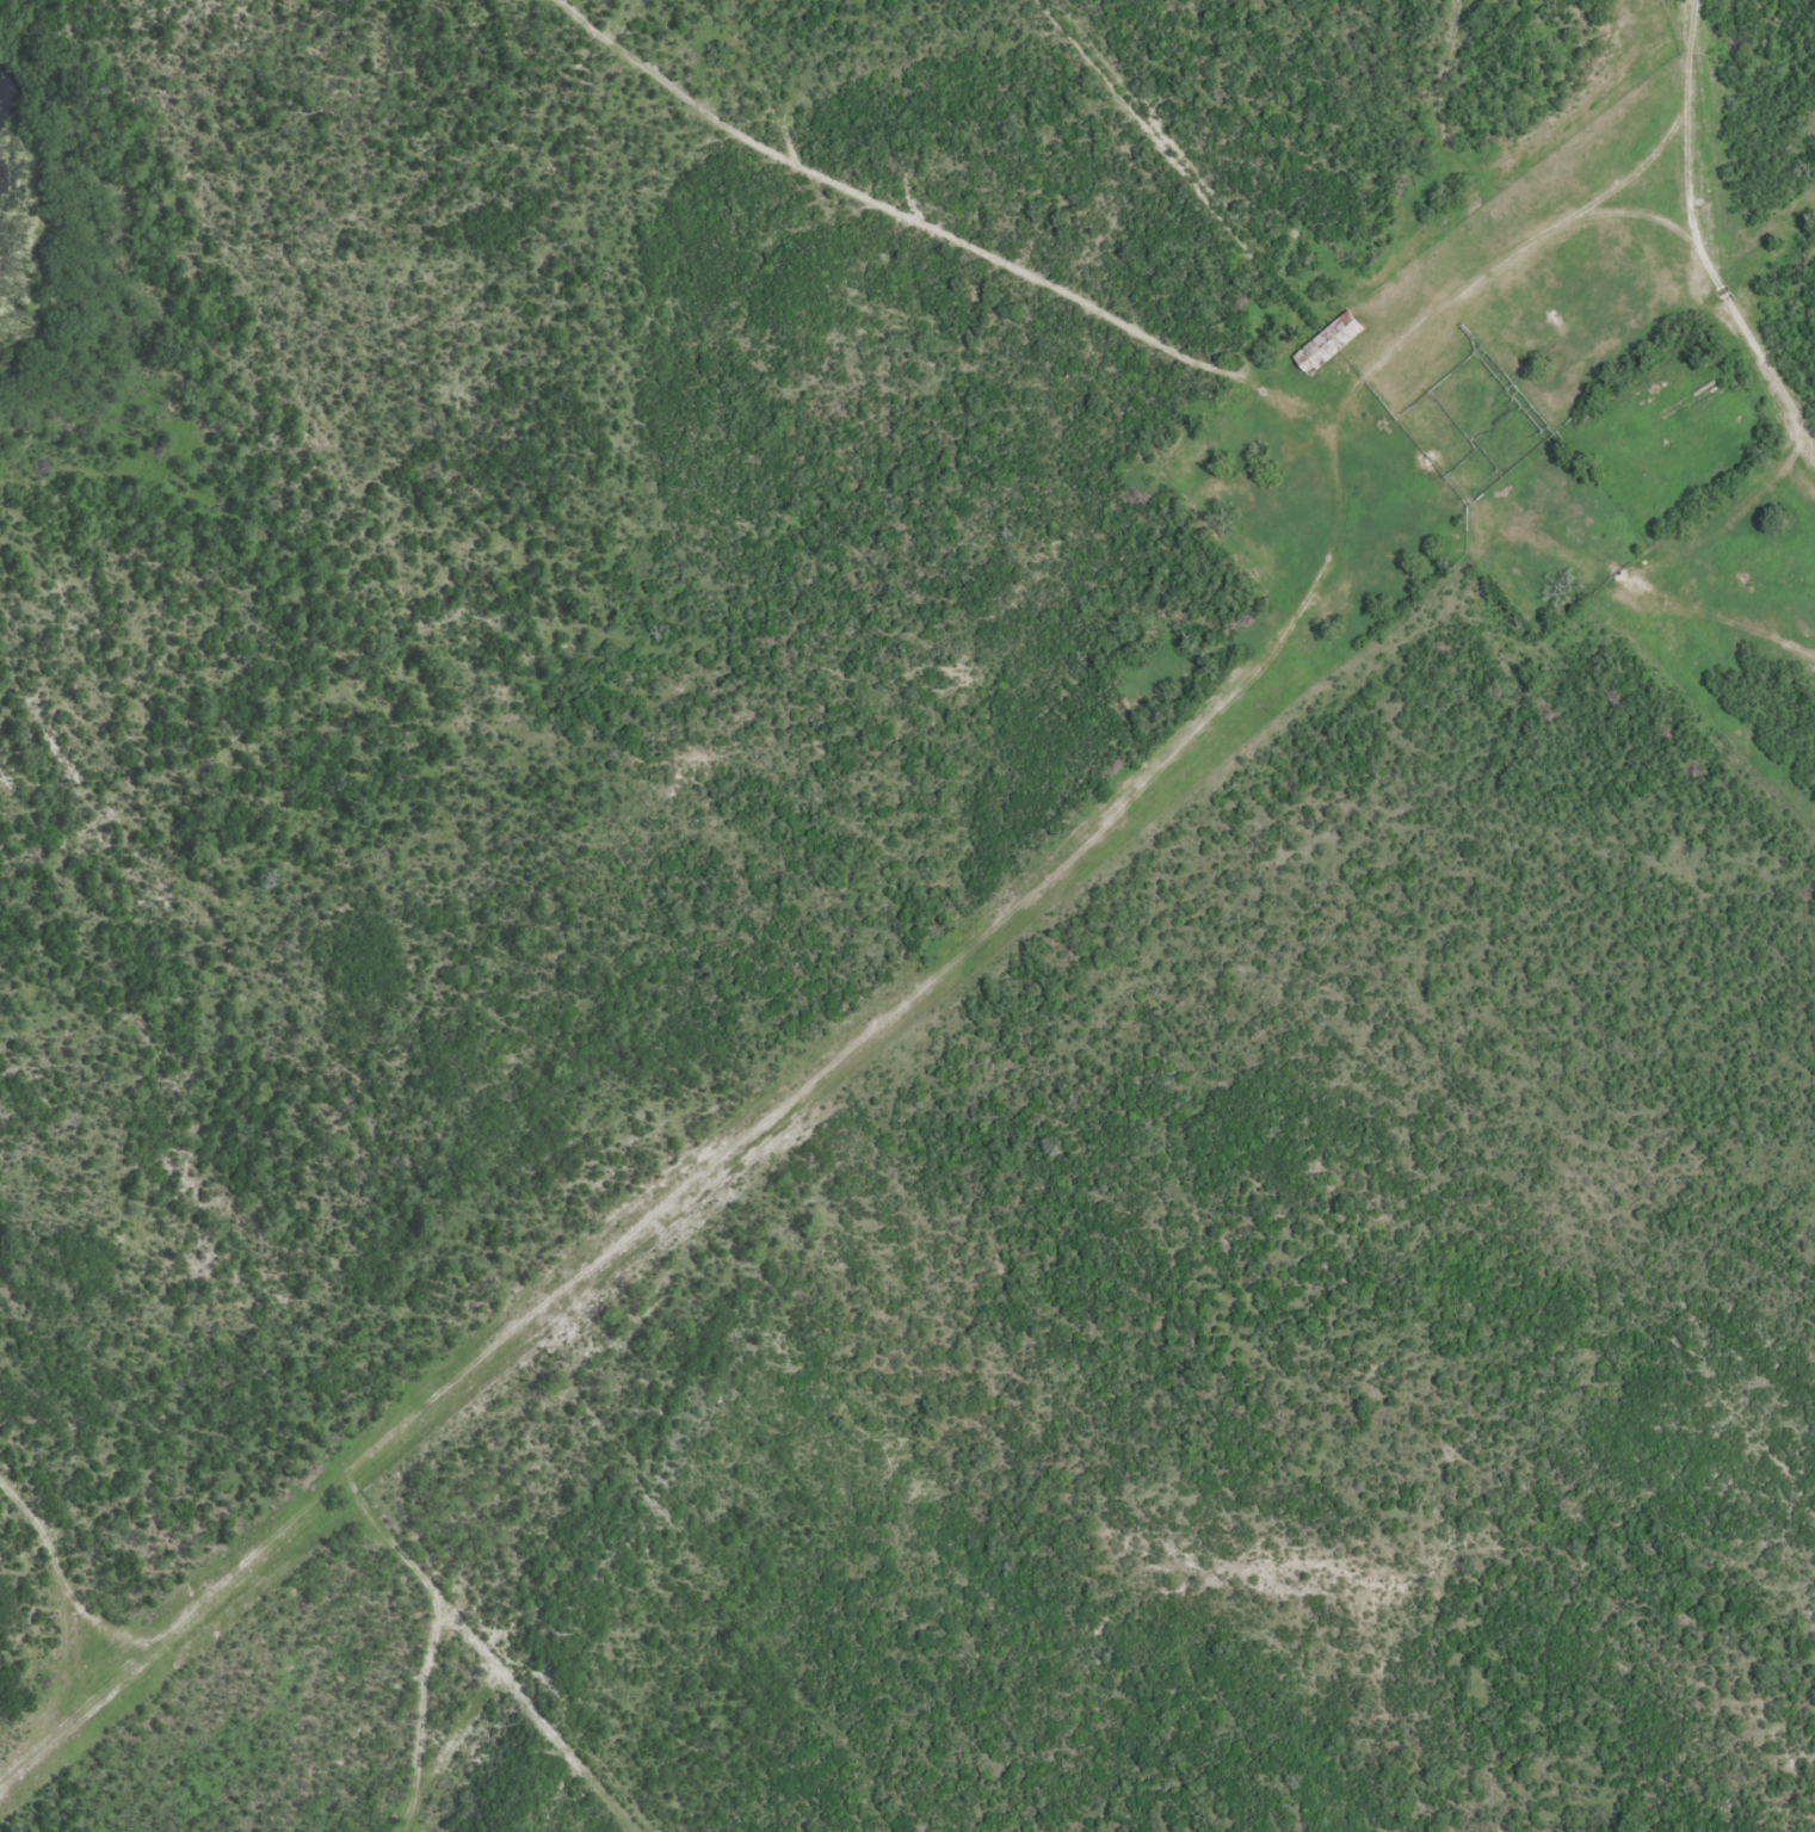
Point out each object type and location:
road: (1154, 265)
building: (1328, 341)
road: (903, 986)

